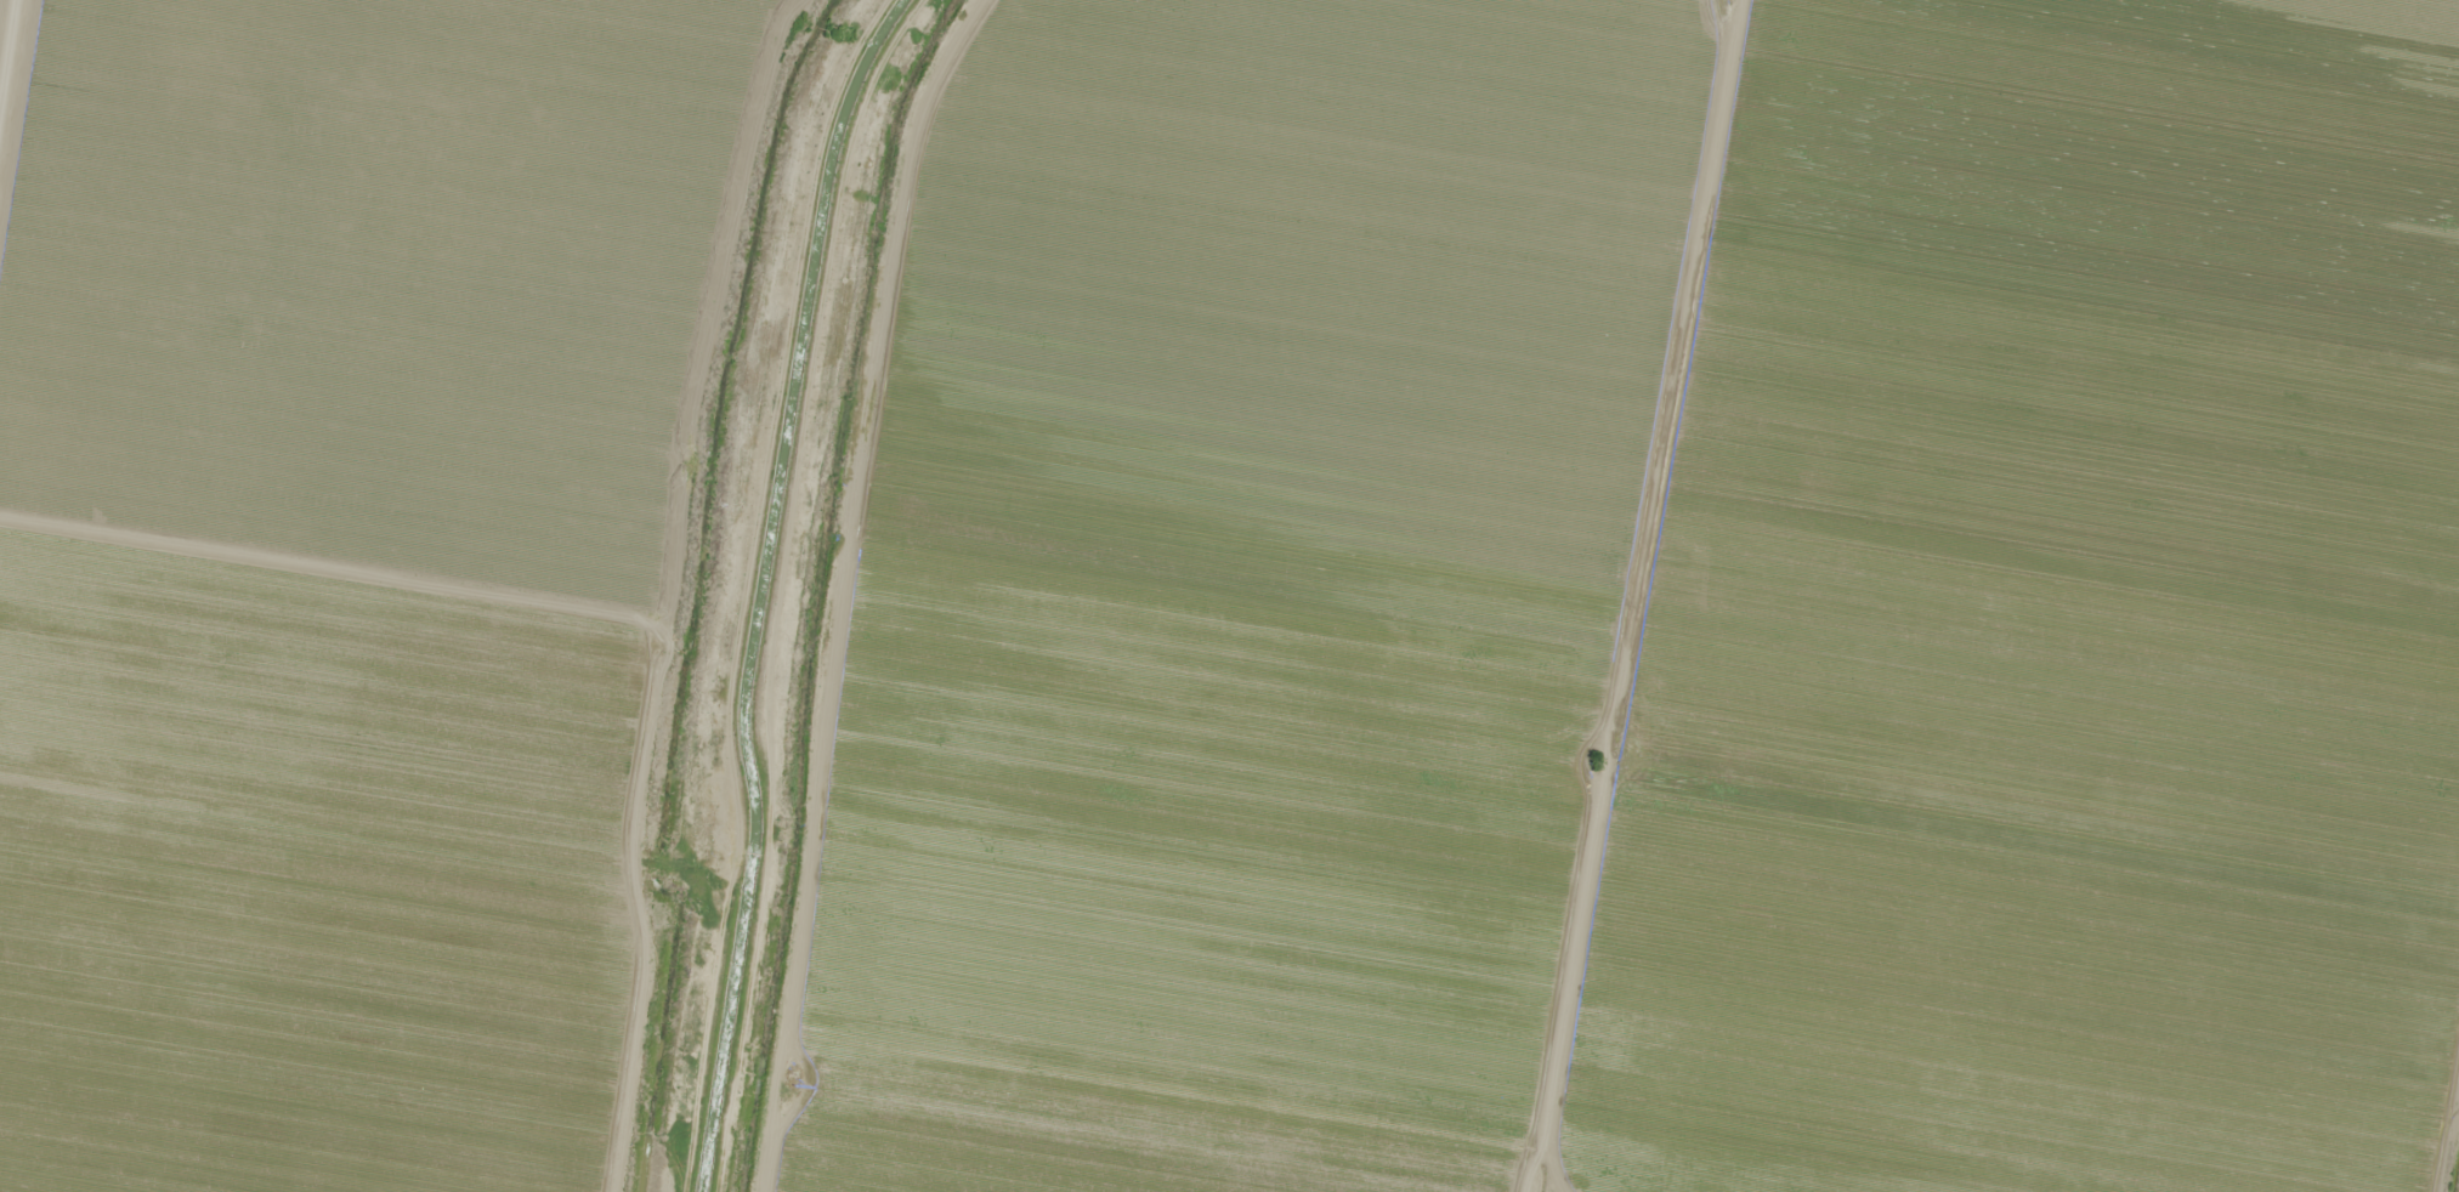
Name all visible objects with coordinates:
road: (23, 151)
road: (823, 586)

